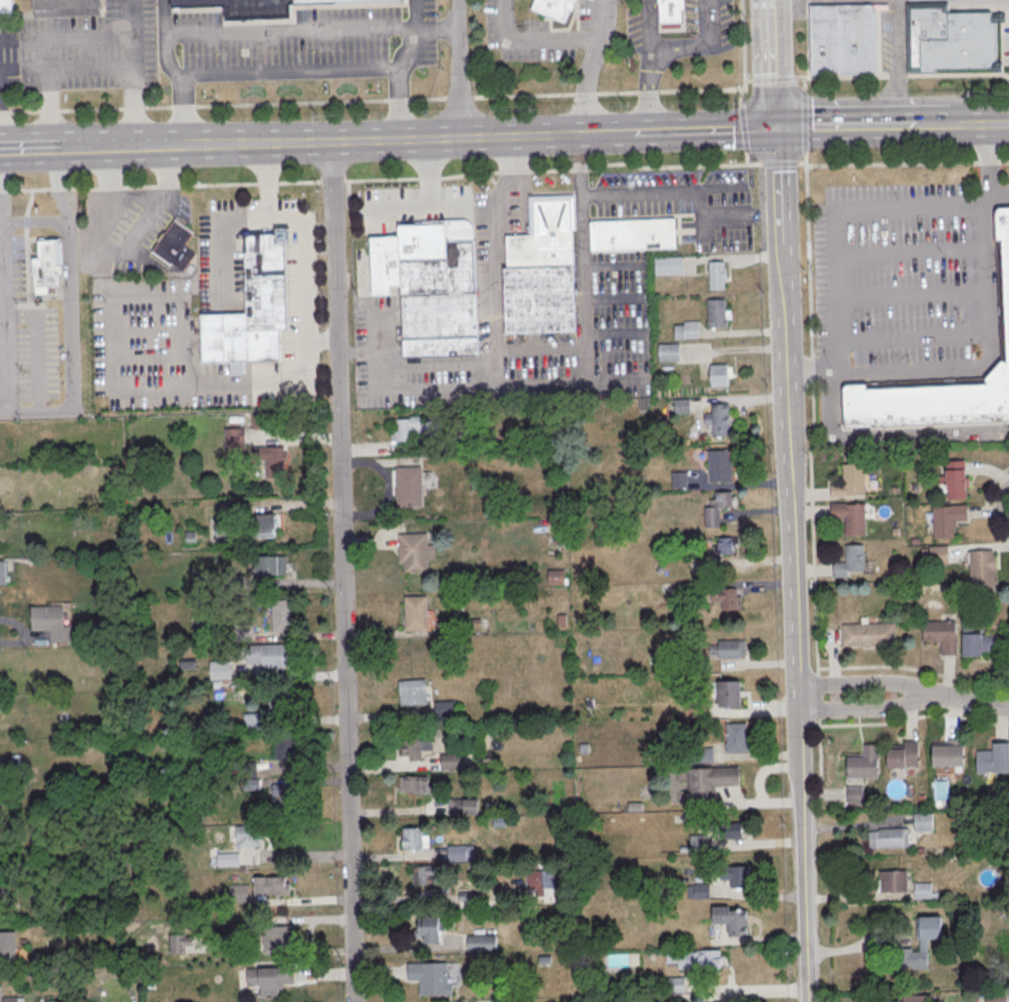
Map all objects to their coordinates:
road: (849, 1)
building: (5, 7)
building: (259, 7)
building: (552, 7)
building: (65, 8)
building: (671, 10)
road: (132, 17)
road: (707, 25)
road: (311, 30)
road: (122, 35)
road: (534, 38)
building: (843, 39)
building: (951, 39)
parking lot: (82, 50)
road: (676, 50)
road: (772, 62)
road: (896, 62)
road: (67, 65)
road: (650, 65)
road: (590, 66)
road: (399, 67)
road: (458, 68)
road: (286, 72)
road: (174, 73)
road: (878, 76)
road: (49, 93)
road: (419, 102)
road: (985, 123)
road: (933, 124)
road: (956, 124)
road: (846, 125)
traffic signals: (775, 126)
road: (703, 128)
road: (599, 133)
road: (513, 136)
road: (394, 140)
road: (256, 144)
road: (121, 147)
road: (29, 149)
road: (907, 162)
road: (429, 172)
road: (267, 180)
road: (778, 184)
road: (661, 192)
road: (417, 205)
parking lot: (686, 206)
road: (845, 210)
road: (35, 223)
building: (633, 234)
building: (175, 247)
road: (1, 251)
road: (116, 251)
road: (911, 253)
building: (1005, 253)
road: (303, 262)
building: (48, 265)
road: (613, 266)
building: (669, 266)
building: (542, 270)
building: (717, 276)
parking lot: (905, 283)
building: (432, 286)
road: (70, 294)
road: (913, 295)
road: (613, 299)
building: (253, 308)
road: (184, 313)
road: (585, 313)
building: (717, 314)
road: (494, 328)
building: (687, 331)
road: (613, 332)
road: (914, 336)
road: (320, 341)
building: (669, 353)
road: (786, 355)
road: (989, 357)
road: (491, 374)
building: (719, 374)
road: (305, 375)
road: (613, 376)
road: (493, 384)
road: (739, 400)
building: (931, 403)
building: (682, 407)
road: (3, 411)
road: (39, 411)
building: (719, 421)
building: (259, 422)
building: (416, 428)
building: (235, 439)
road: (812, 443)
building: (272, 460)
building: (720, 467)
building: (955, 479)
building: (679, 480)
building: (850, 482)
building: (409, 488)
building: (915, 488)
building: (893, 491)
building: (717, 509)
building: (851, 518)
building: (947, 520)
building: (266, 525)
building: (895, 532)
building: (560, 541)
building: (914, 542)
building: (726, 546)
building: (414, 553)
building: (924, 553)
building: (938, 555)
building: (850, 562)
building: (270, 565)
building: (981, 569)
road: (341, 571)
building: (3, 573)
building: (557, 578)
road: (794, 584)
building: (696, 588)
building: (727, 598)
building: (416, 613)
building: (282, 617)
building: (562, 621)
building: (51, 623)
road: (25, 635)
building: (868, 635)
building: (942, 636)
building: (977, 641)
building: (729, 650)
building: (270, 656)
road: (914, 667)
building: (220, 670)
road: (860, 685)
building: (413, 693)
building: (631, 694)
building: (731, 695)
road: (965, 701)
road: (859, 708)
building: (445, 710)
road: (914, 717)
building: (738, 739)
building: (415, 748)
building: (284, 750)
building: (948, 754)
building: (904, 757)
building: (993, 760)
building: (450, 762)
building: (864, 765)
building: (711, 783)
building: (416, 785)
building: (283, 794)
building: (464, 806)
building: (923, 823)
building: (731, 832)
building: (247, 837)
building: (414, 839)
building: (889, 839)
building: (699, 844)
road: (755, 845)
road: (804, 850)
building: (461, 852)
road: (293, 856)
building: (228, 860)
building: (424, 874)
building: (736, 876)
building: (894, 882)
building: (270, 886)
building: (702, 892)
building: (923, 892)
building: (3, 895)
road: (861, 898)
building: (732, 922)
building: (429, 930)
building: (279, 939)
building: (482, 944)
building: (923, 945)
building: (8, 946)
road: (410, 949)
building: (695, 960)
building: (430, 979)
building: (270, 981)
building: (676, 986)
road: (745, 989)
building: (650, 998)
building: (915, 998)
building: (12, 999)

